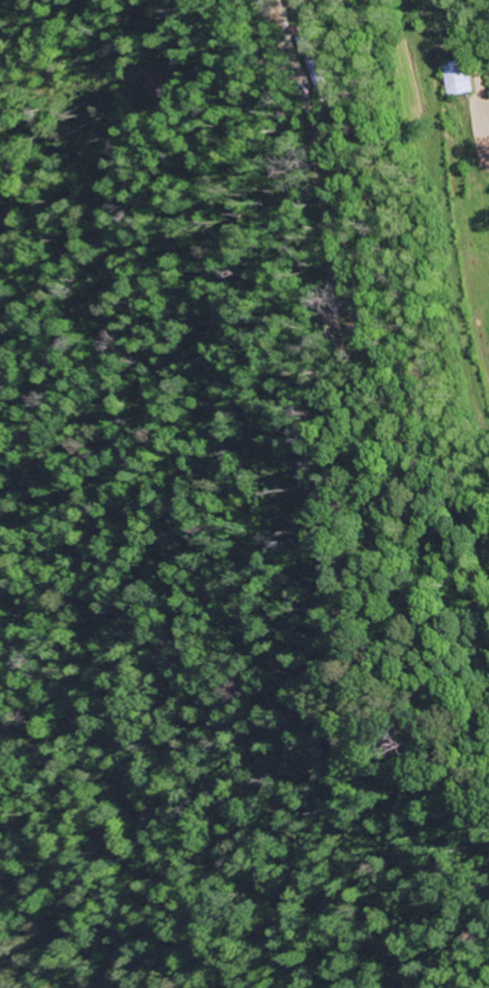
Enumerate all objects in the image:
building: (312, 78)
building: (458, 79)

